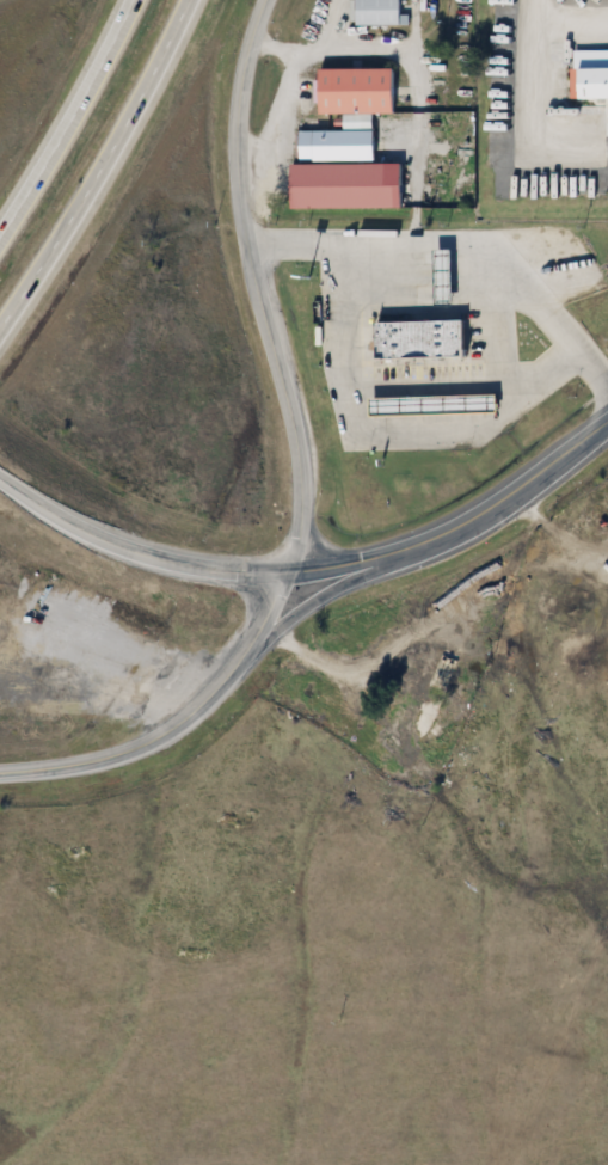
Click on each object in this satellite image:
building: (377, 12)
road: (337, 25)
road: (380, 48)
road: (276, 49)
building: (591, 84)
building: (357, 91)
road: (532, 103)
road: (72, 124)
building: (336, 146)
road: (103, 171)
building: (345, 186)
road: (462, 241)
building: (440, 271)
road: (420, 309)
building: (417, 341)
road: (495, 381)
road: (508, 392)
building: (431, 403)
gas station: (431, 403)
road: (392, 433)
road: (307, 473)
road: (311, 571)
road: (339, 590)
road: (397, 649)
building: (420, 710)

